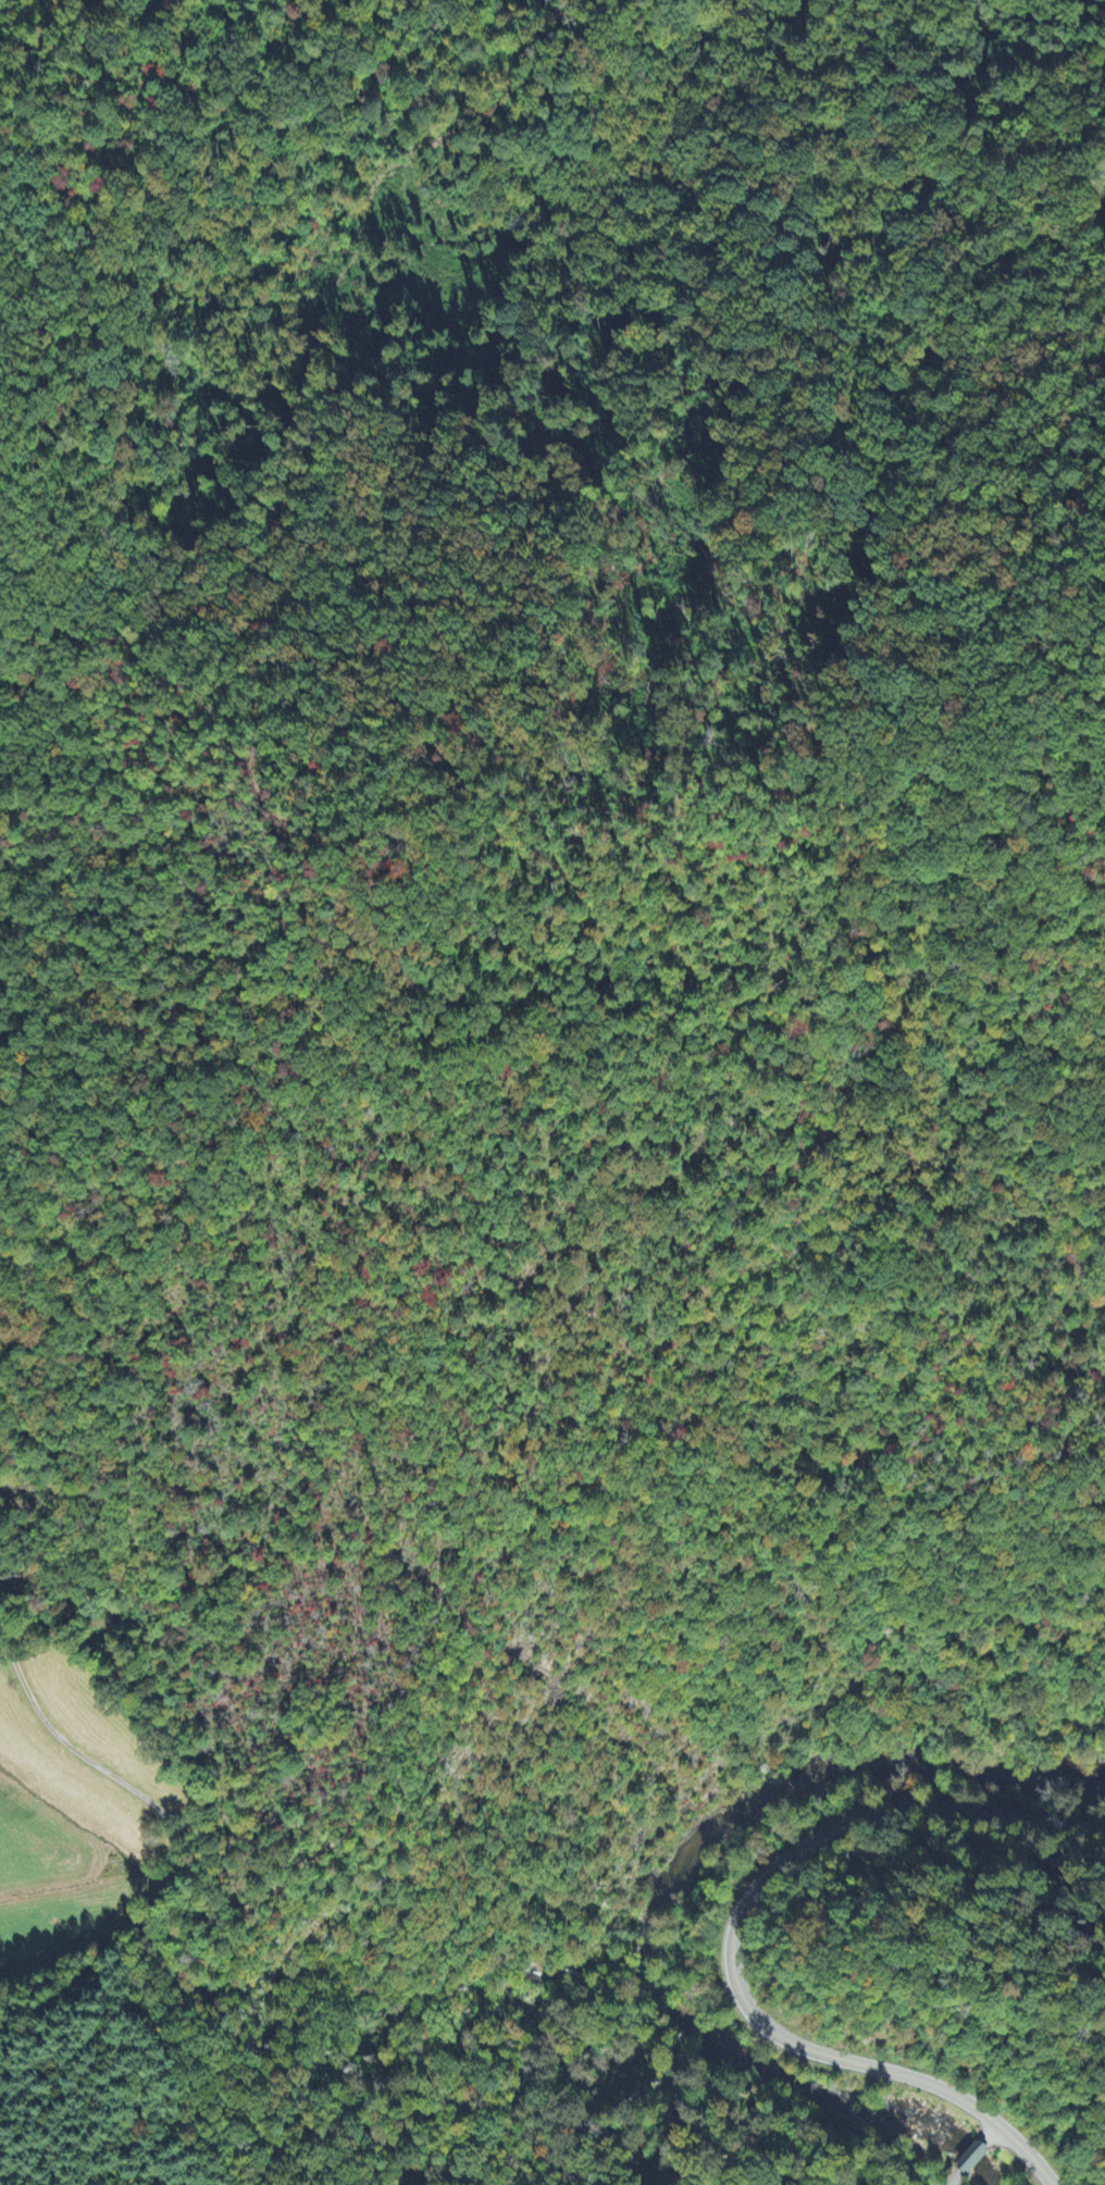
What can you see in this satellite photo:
road: (901, 69)
road: (529, 1535)
river: (827, 1787)
road: (730, 1940)
river: (793, 2097)
road: (992, 2135)
road: (966, 2163)

